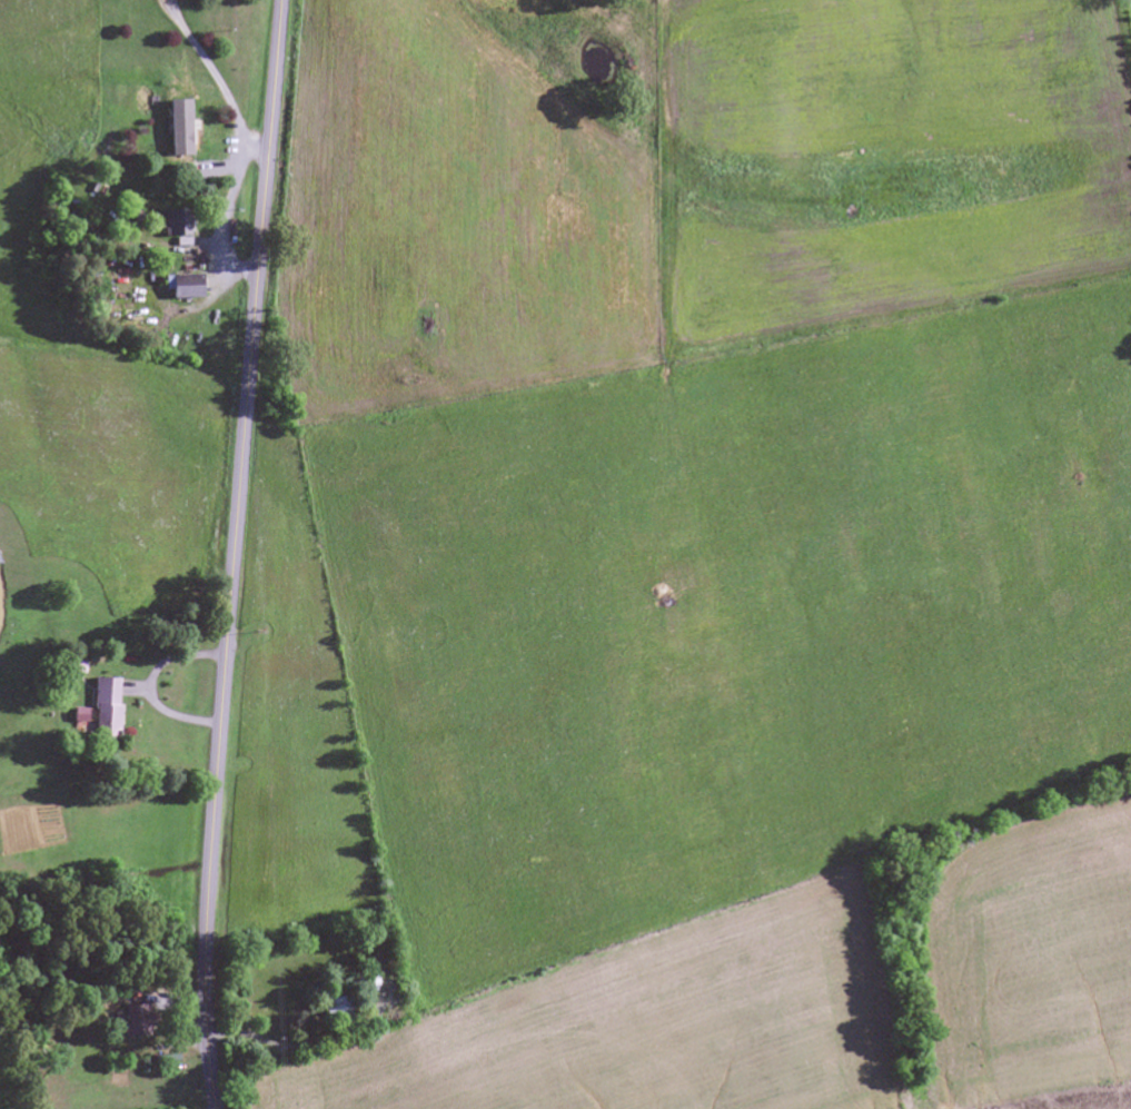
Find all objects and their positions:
building: (178, 132)
building: (173, 224)
building: (183, 287)
road: (234, 554)
building: (75, 664)
building: (103, 709)
building: (369, 978)
building: (336, 1009)
building: (136, 1021)

